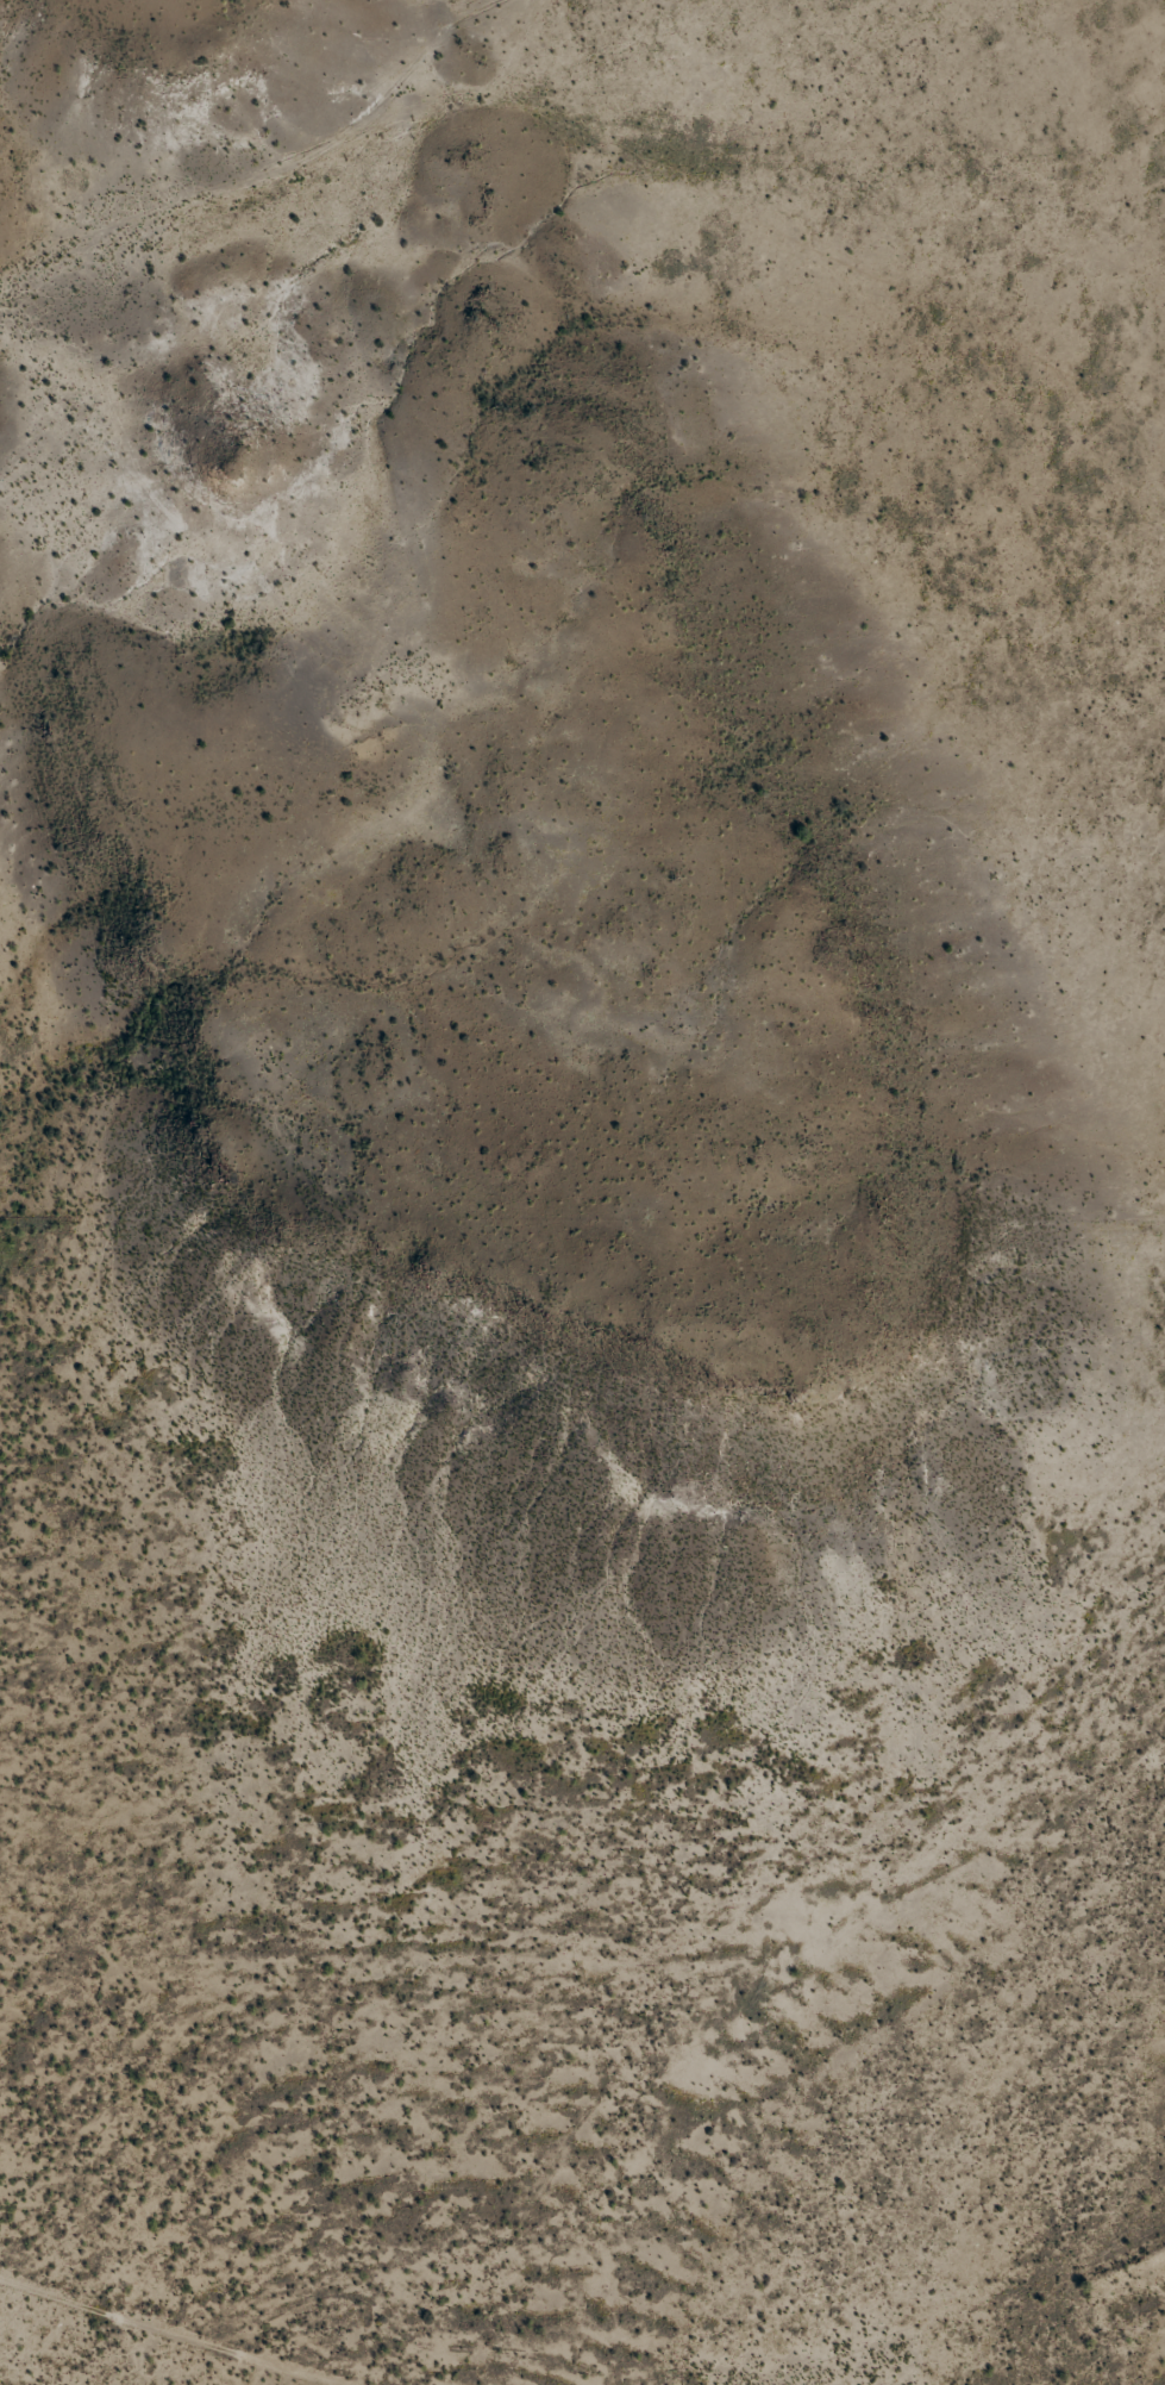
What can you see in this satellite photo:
road: (656, 2074)
road: (539, 2345)

